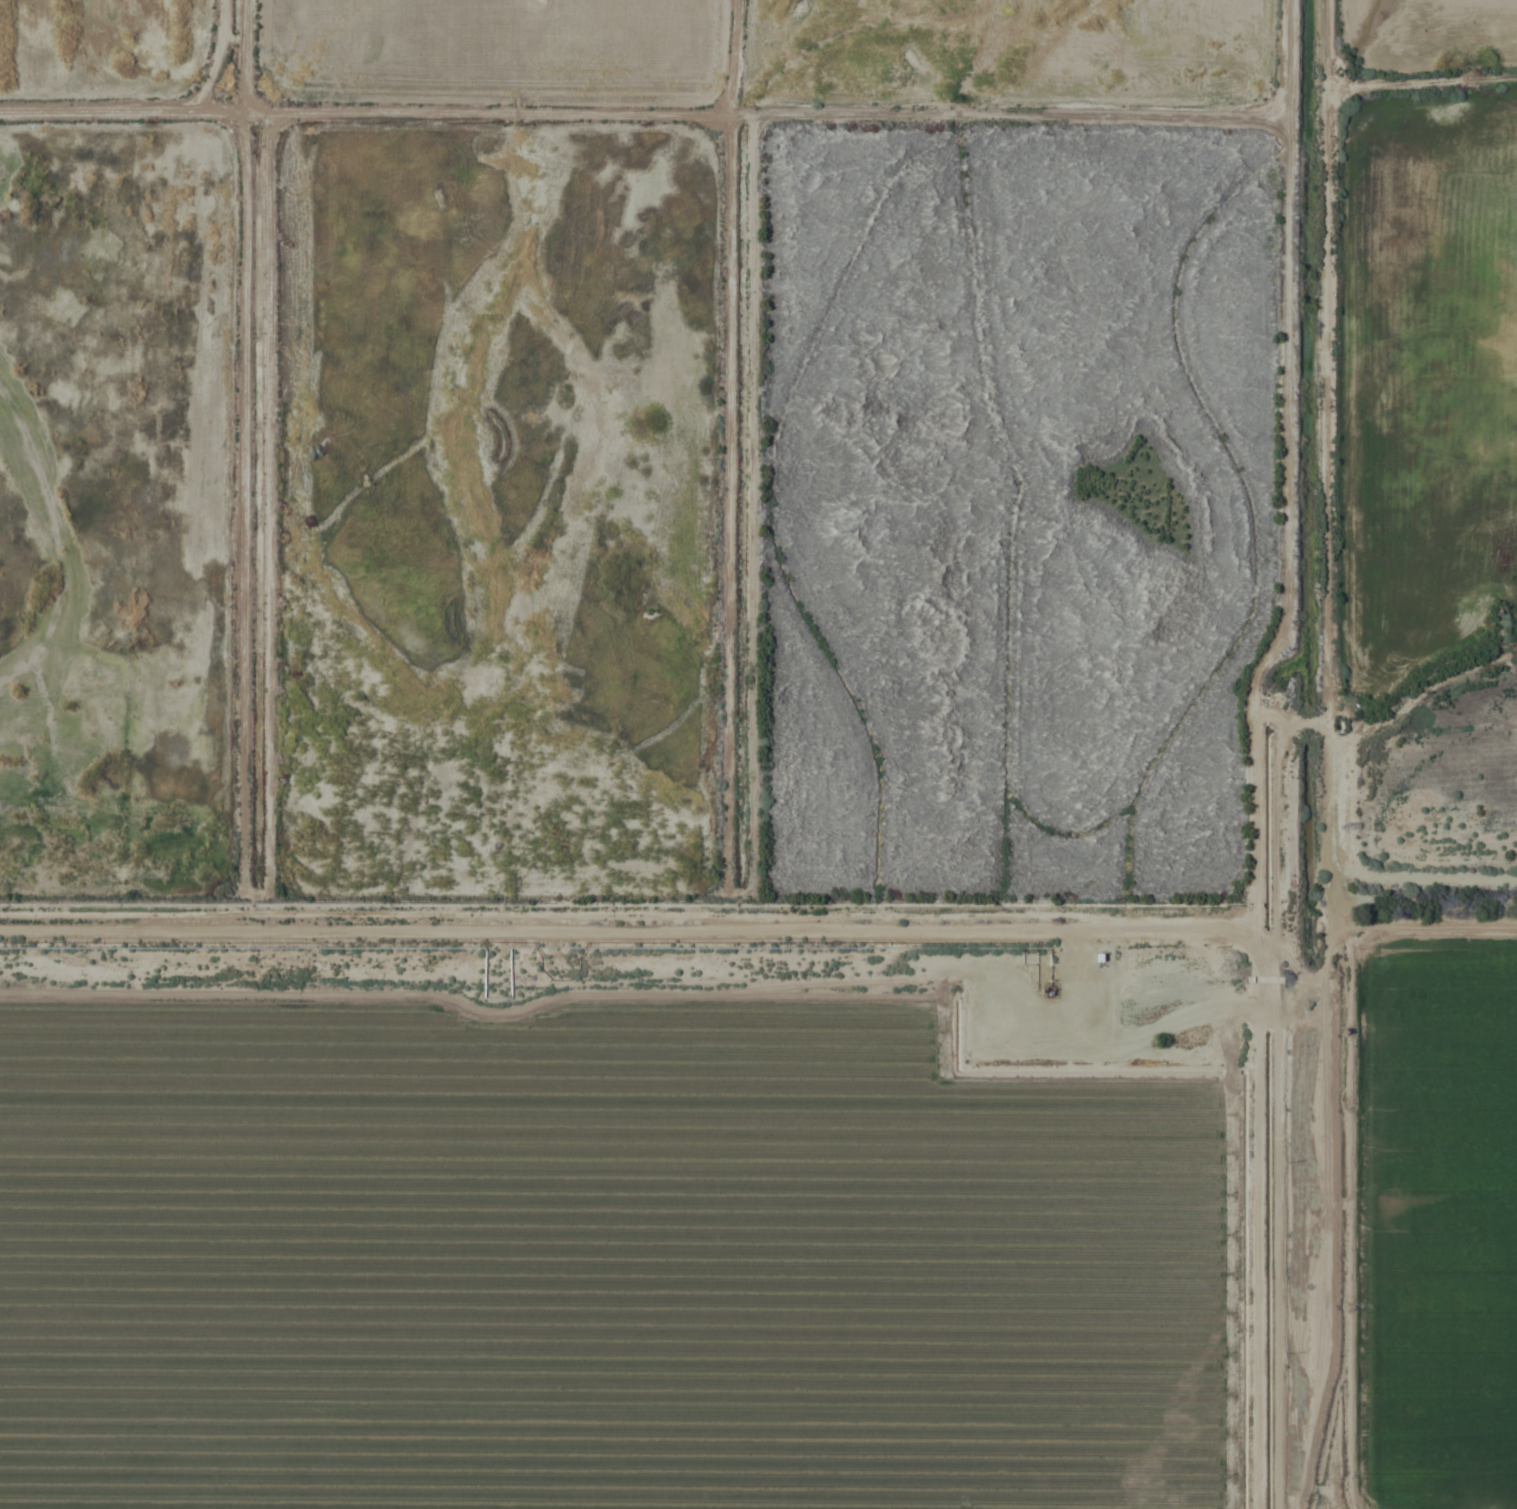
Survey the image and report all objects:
road: (1314, 547)
parking lot: (1334, 830)
parking lot: (1359, 902)
road: (1250, 1093)

